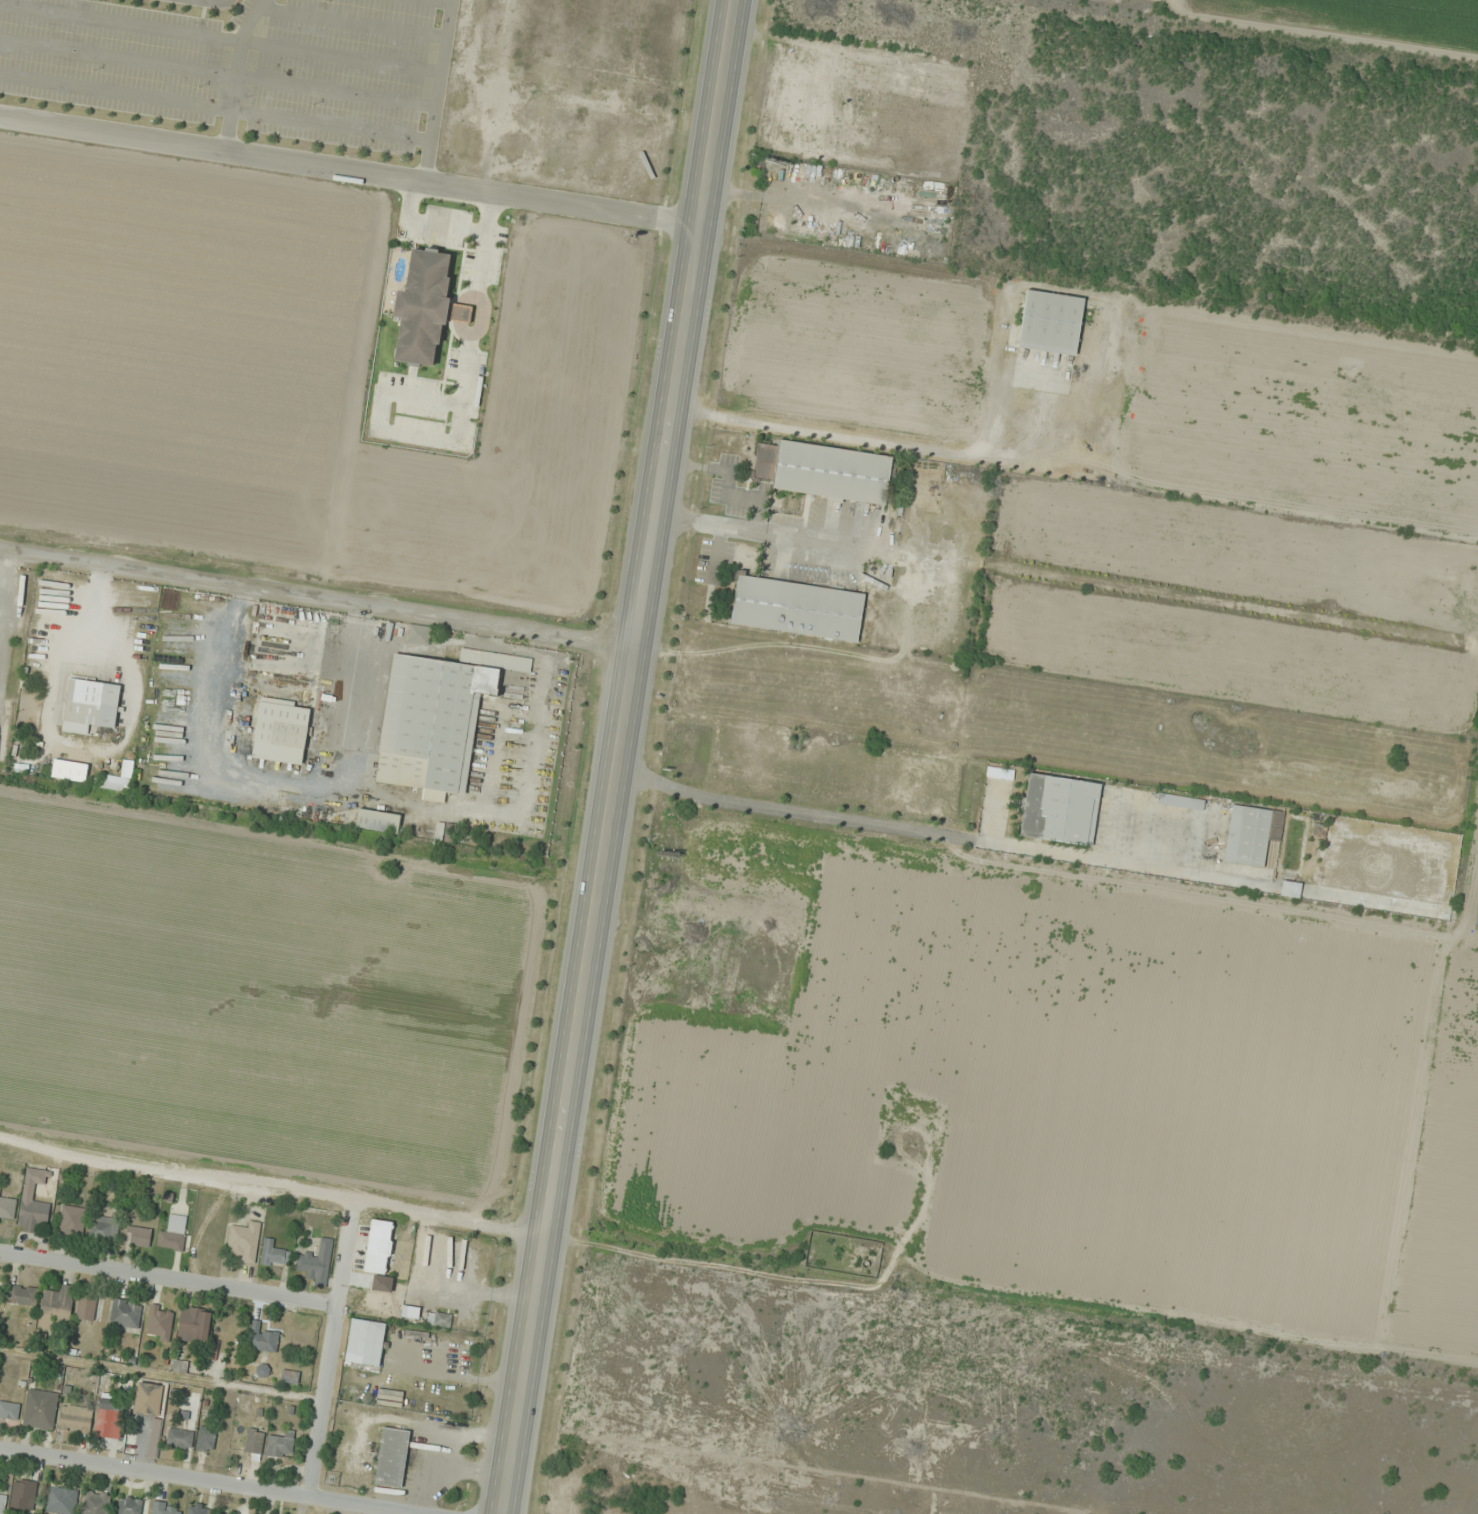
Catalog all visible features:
parking lot: (238, 82)
road: (566, 206)
building: (425, 307)
building: (1049, 323)
building: (823, 471)
road: (318, 594)
building: (796, 608)
building: (418, 634)
building: (90, 705)
building: (436, 718)
building: (280, 731)
road: (620, 757)
building: (999, 773)
building: (115, 784)
building: (1180, 801)
building: (1059, 809)
building: (377, 821)
building: (1318, 831)
building: (1251, 834)
building: (27, 1192)
road: (273, 1193)
building: (6, 1209)
building: (71, 1219)
building: (103, 1227)
building: (173, 1234)
building: (138, 1236)
building: (243, 1242)
building: (378, 1247)
building: (273, 1256)
building: (317, 1262)
road: (168, 1280)
building: (21, 1295)
building: (56, 1306)
building: (85, 1307)
building: (125, 1313)
building: (439, 1319)
building: (159, 1322)
building: (193, 1325)
building: (261, 1339)
building: (365, 1342)
road: (330, 1349)
building: (212, 1351)
building: (178, 1366)
building: (262, 1370)
building: (289, 1376)
building: (148, 1398)
building: (40, 1409)
building: (9, 1410)
building: (75, 1418)
building: (109, 1418)
building: (179, 1438)
building: (205, 1438)
building: (254, 1440)
building: (280, 1445)
building: (391, 1457)
road: (208, 1478)
building: (23, 1494)
building: (61, 1500)
building: (2, 1501)
building: (94, 1502)
building: (128, 1506)
building: (160, 1508)
building: (198, 1510)

